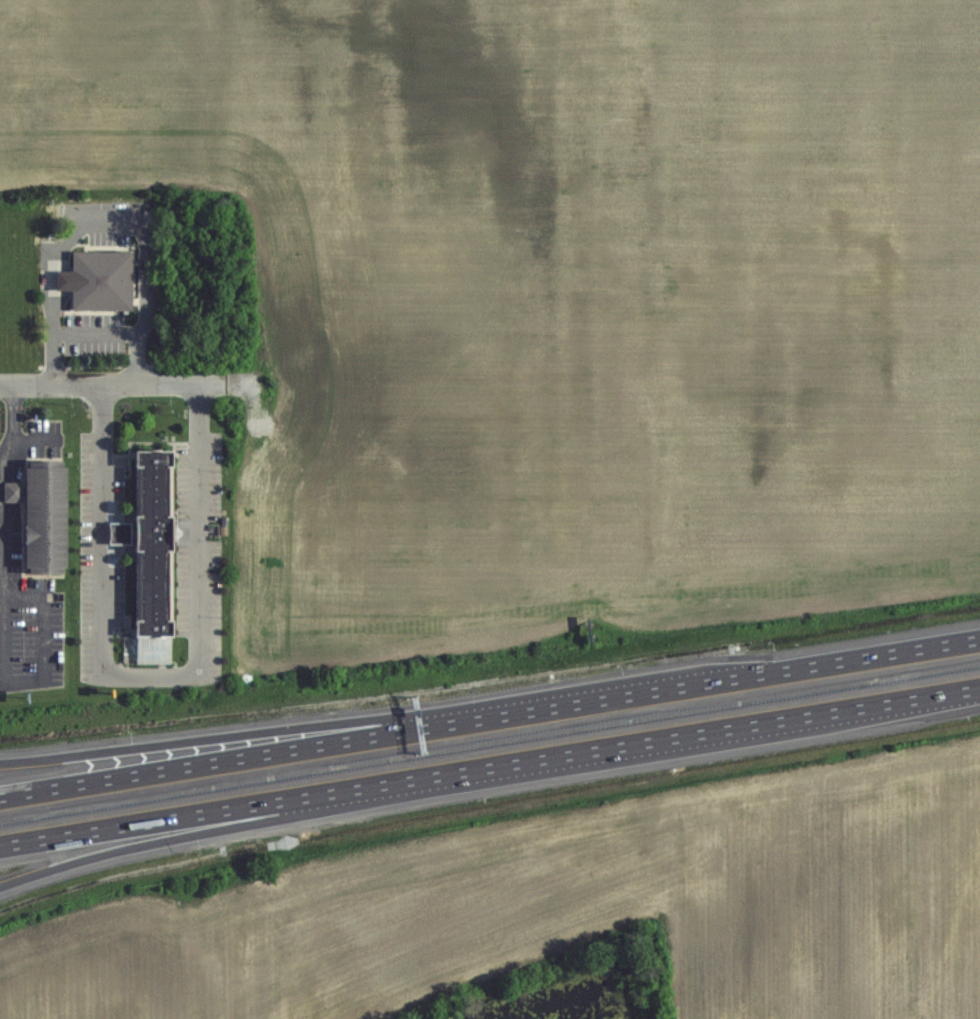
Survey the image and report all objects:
building: (89, 281)
road: (100, 343)
road: (113, 384)
road: (11, 432)
building: (50, 536)
building: (153, 540)
road: (151, 677)
road: (39, 679)
road: (489, 713)
road: (206, 738)
road: (490, 772)
road: (158, 841)

